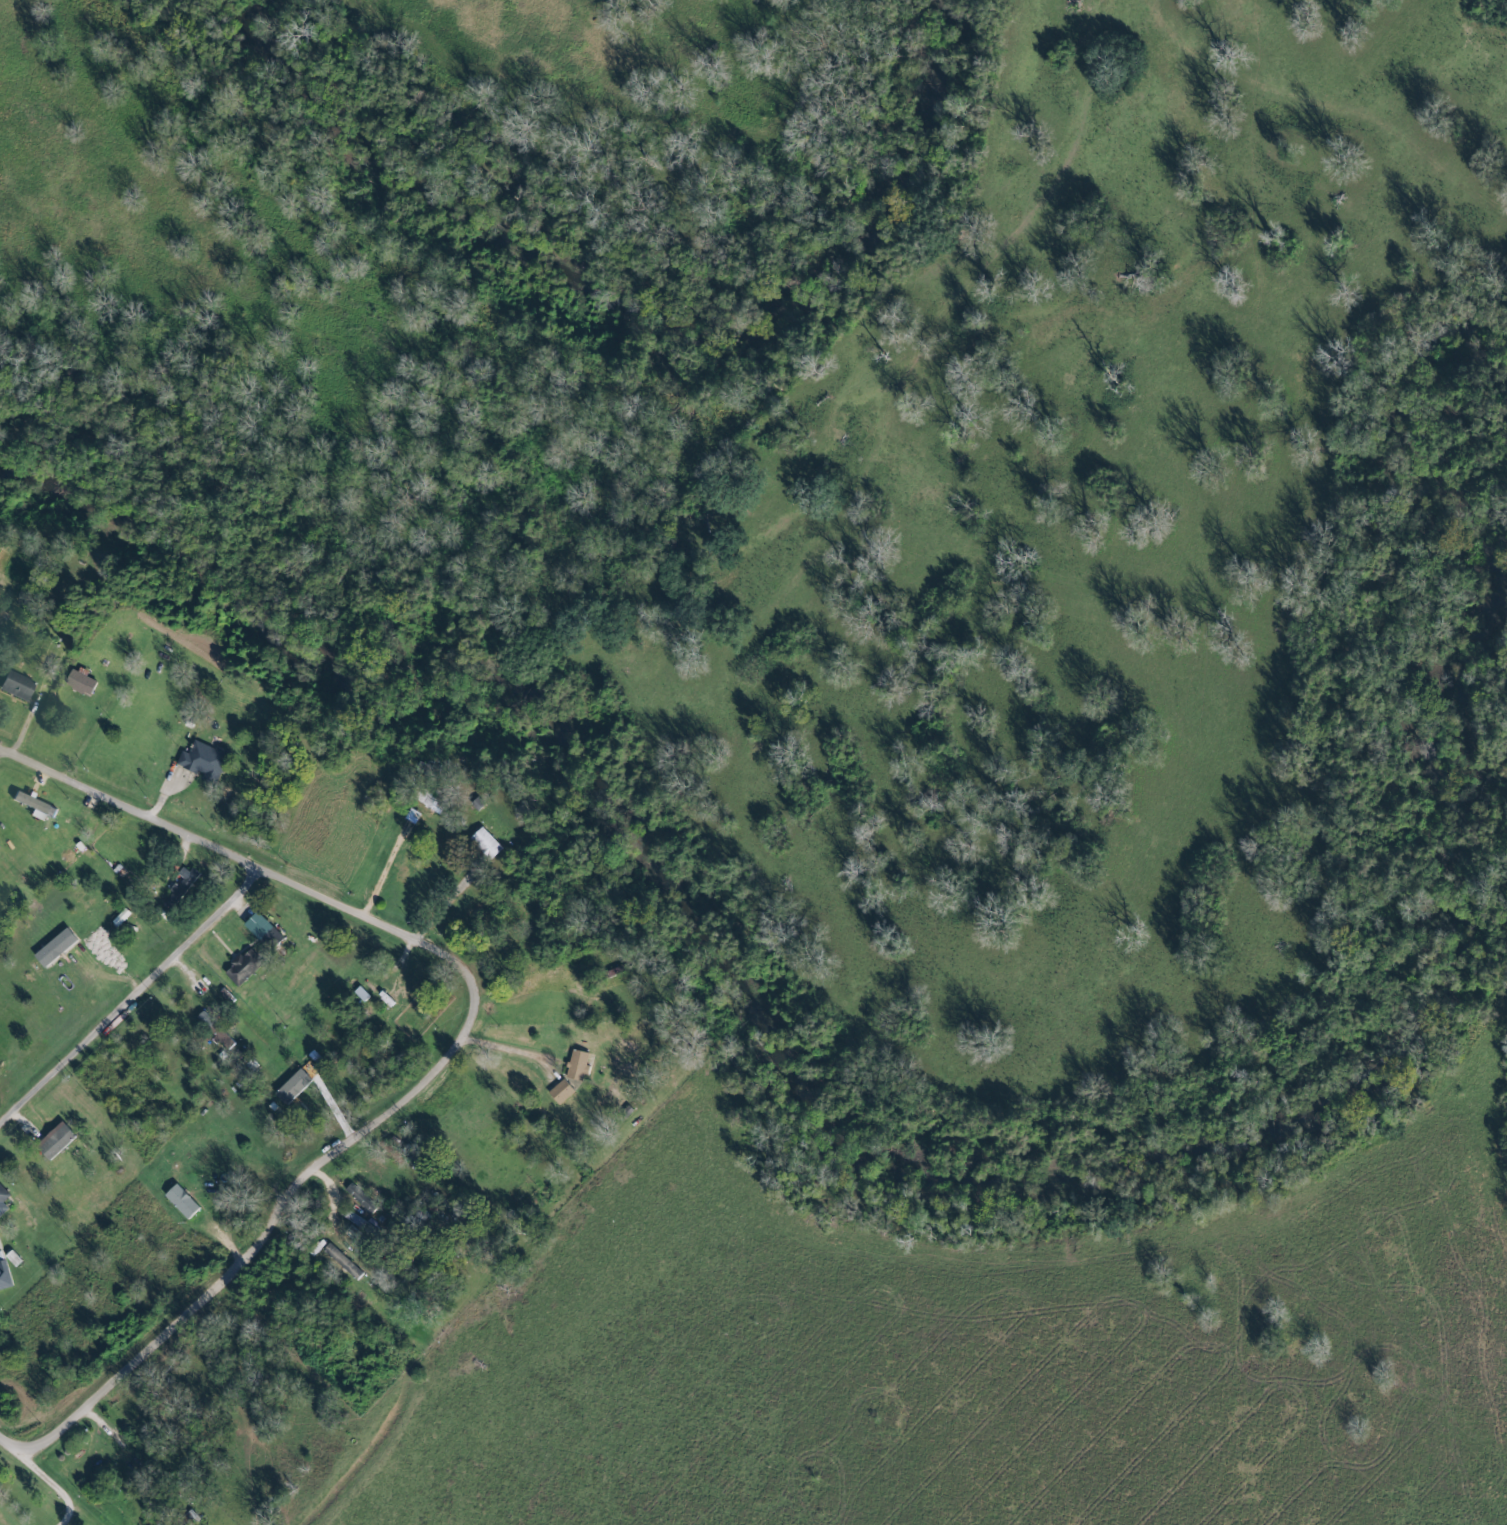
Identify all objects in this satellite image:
building: (83, 682)
building: (19, 685)
road: (0, 751)
building: (206, 760)
building: (37, 804)
building: (488, 843)
building: (0, 847)
building: (183, 887)
building: (262, 925)
building: (245, 967)
building: (363, 994)
road: (132, 1001)
building: (214, 1029)
road: (458, 1047)
building: (580, 1065)
building: (297, 1086)
building: (564, 1091)
building: (60, 1140)
building: (362, 1198)
building: (4, 1199)
building: (185, 1201)
building: (345, 1262)
building: (5, 1276)
road: (39, 1473)
road: (69, 1518)

